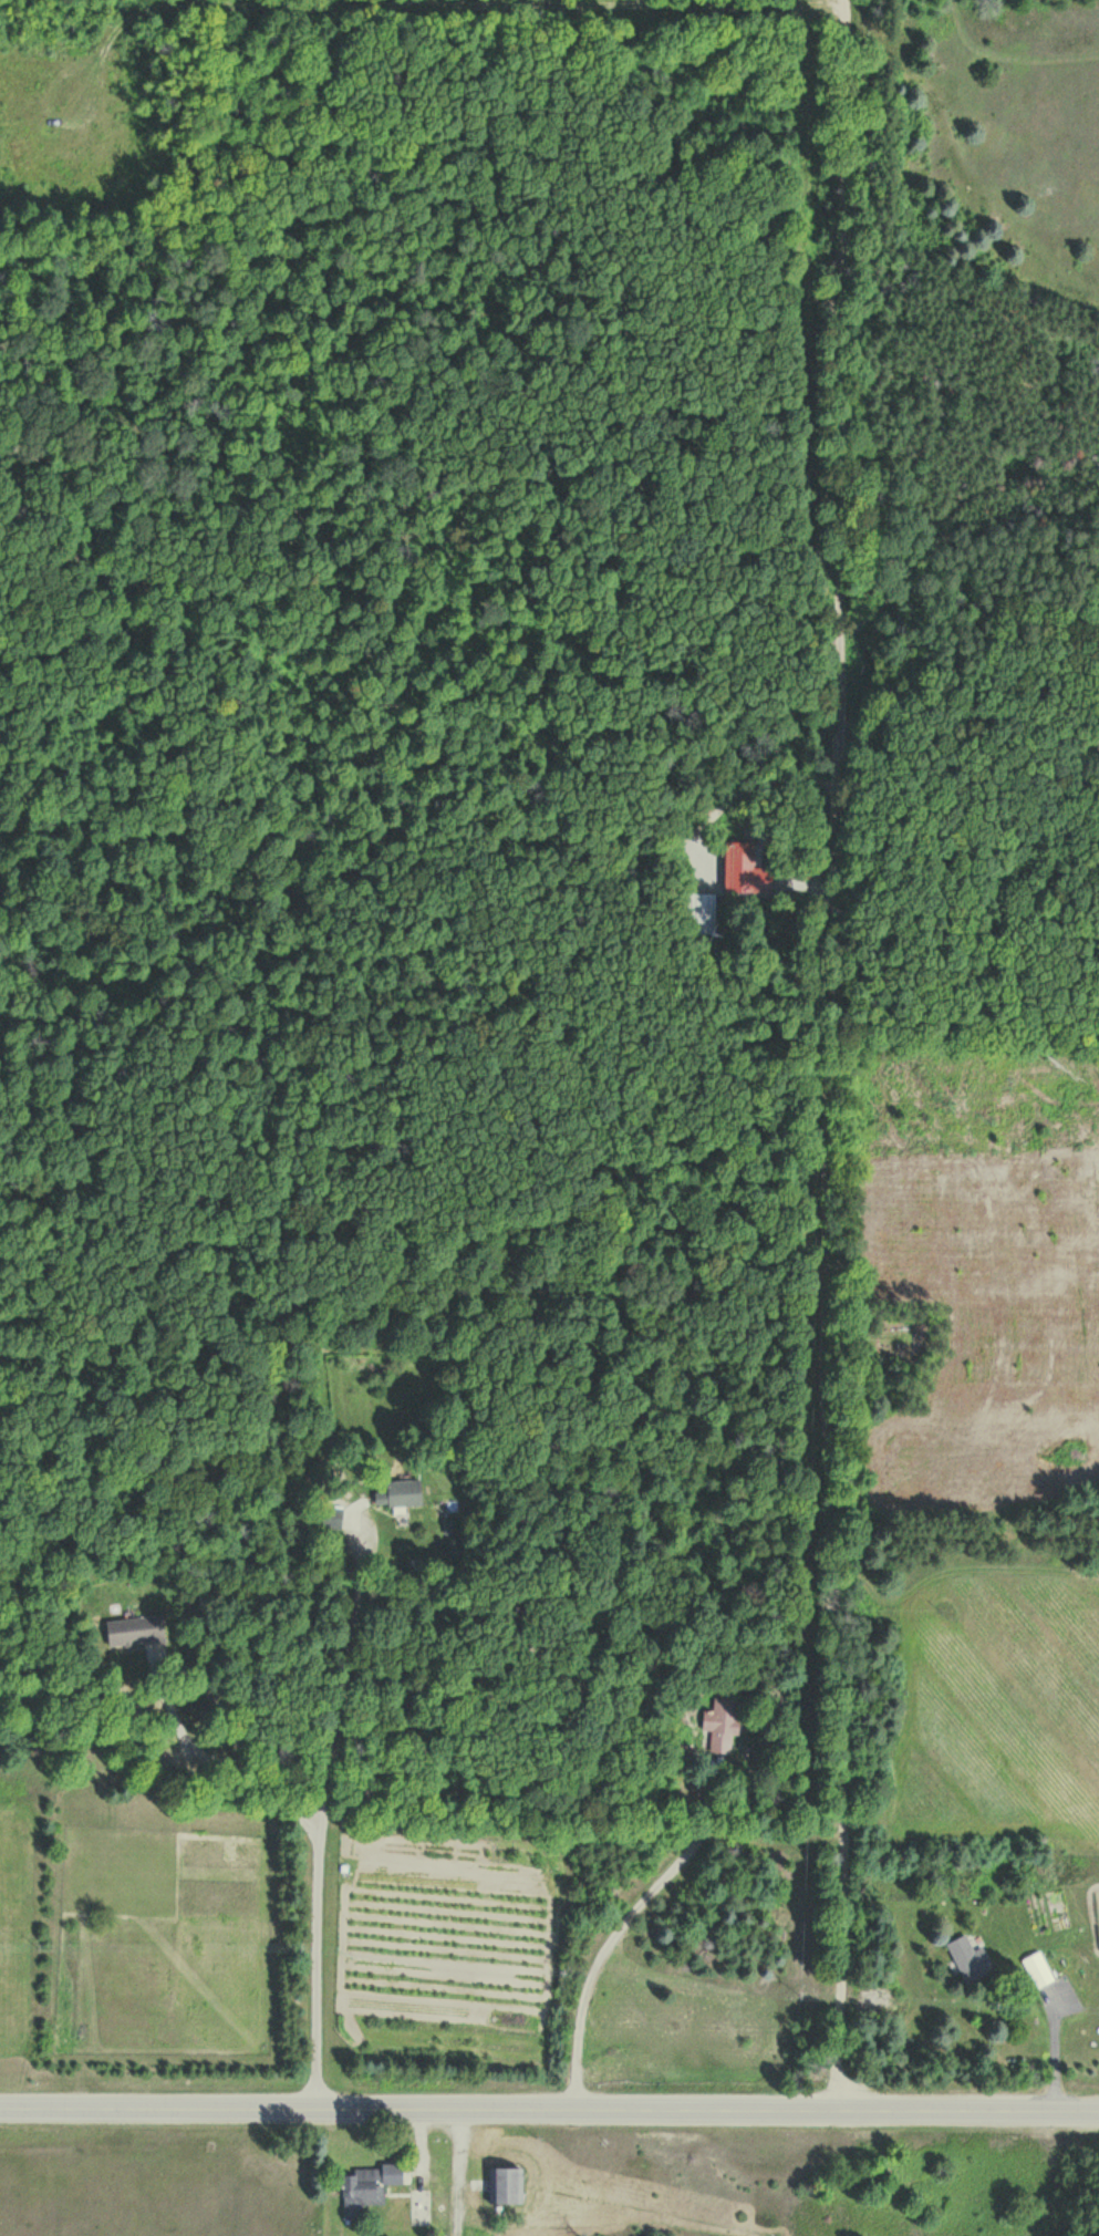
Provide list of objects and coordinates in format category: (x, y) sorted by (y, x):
road: (672, 375)
building: (745, 871)
building: (705, 909)
road: (830, 1055)
building: (401, 1494)
building: (136, 1631)
building: (723, 1725)
road: (322, 1822)
road: (605, 1958)
building: (968, 1959)
building: (1037, 1971)
road: (549, 2109)
road: (459, 2173)
building: (507, 2186)
building: (362, 2192)

